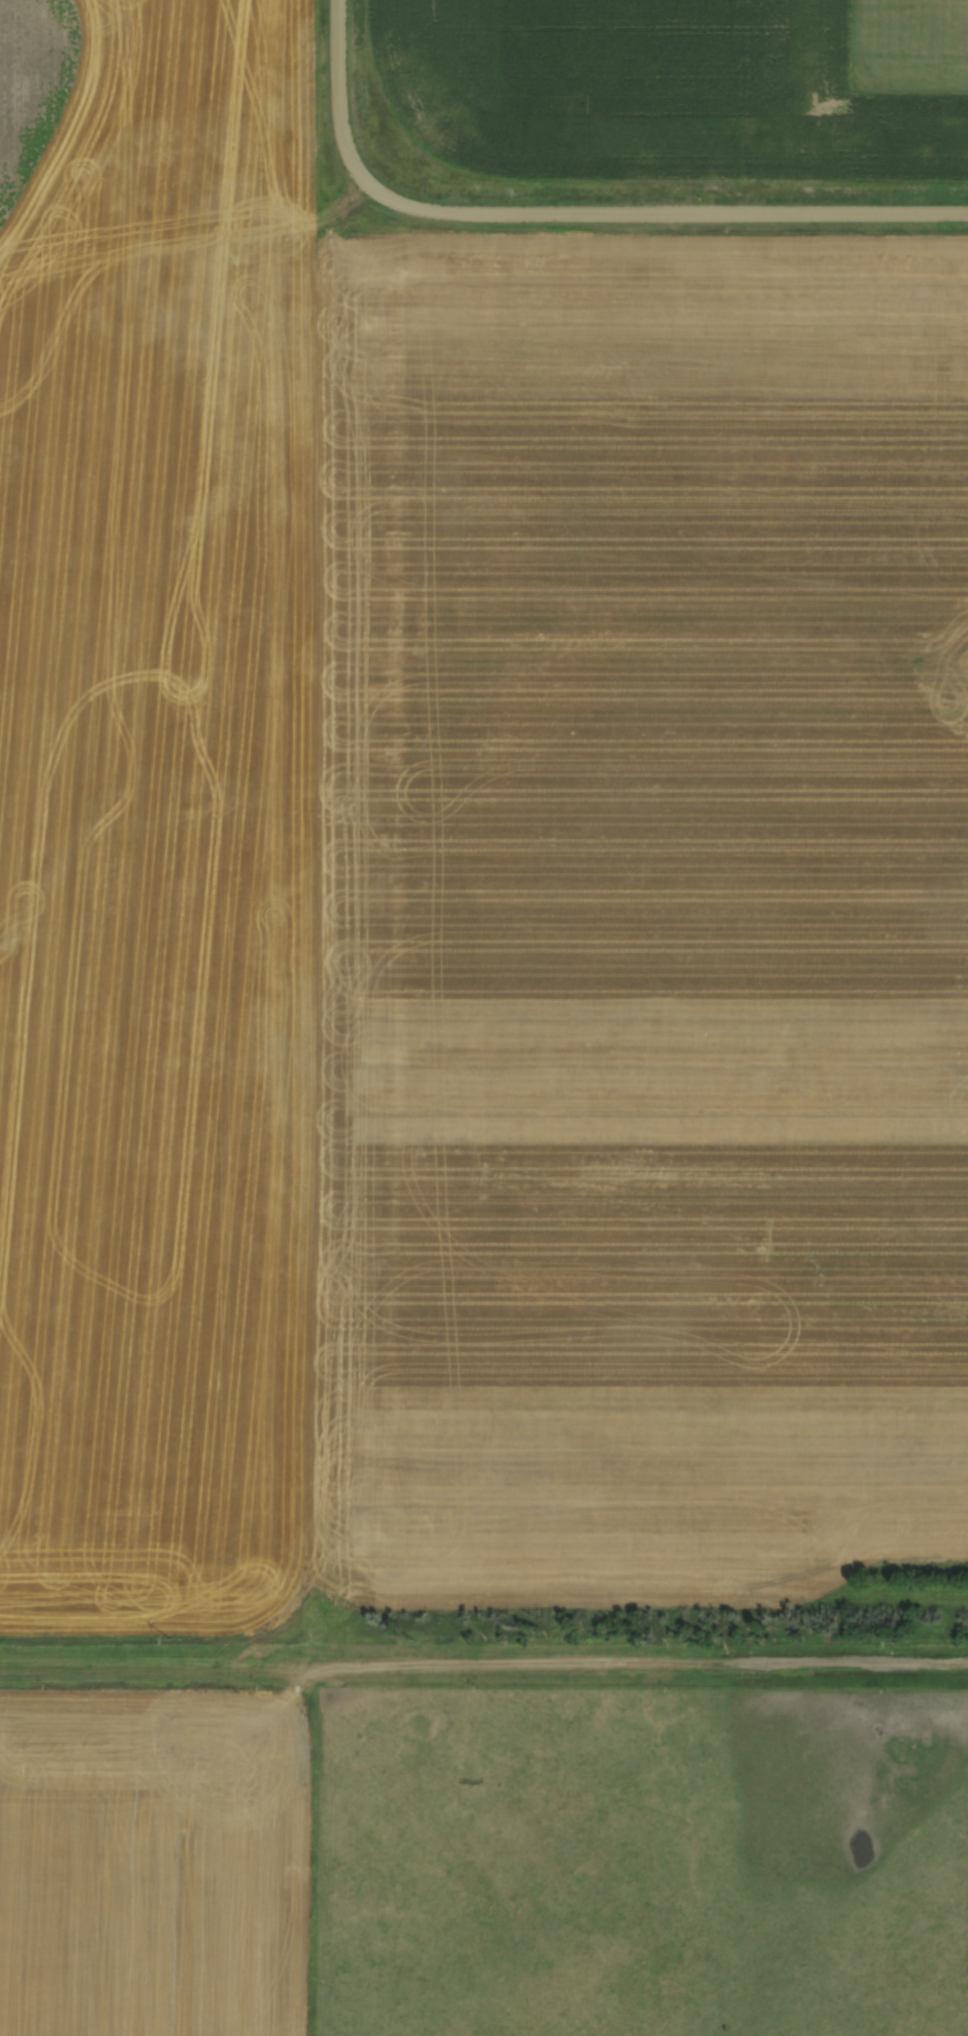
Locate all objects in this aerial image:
airport: (908, 46)
road: (571, 210)
crop: (152, 810)

